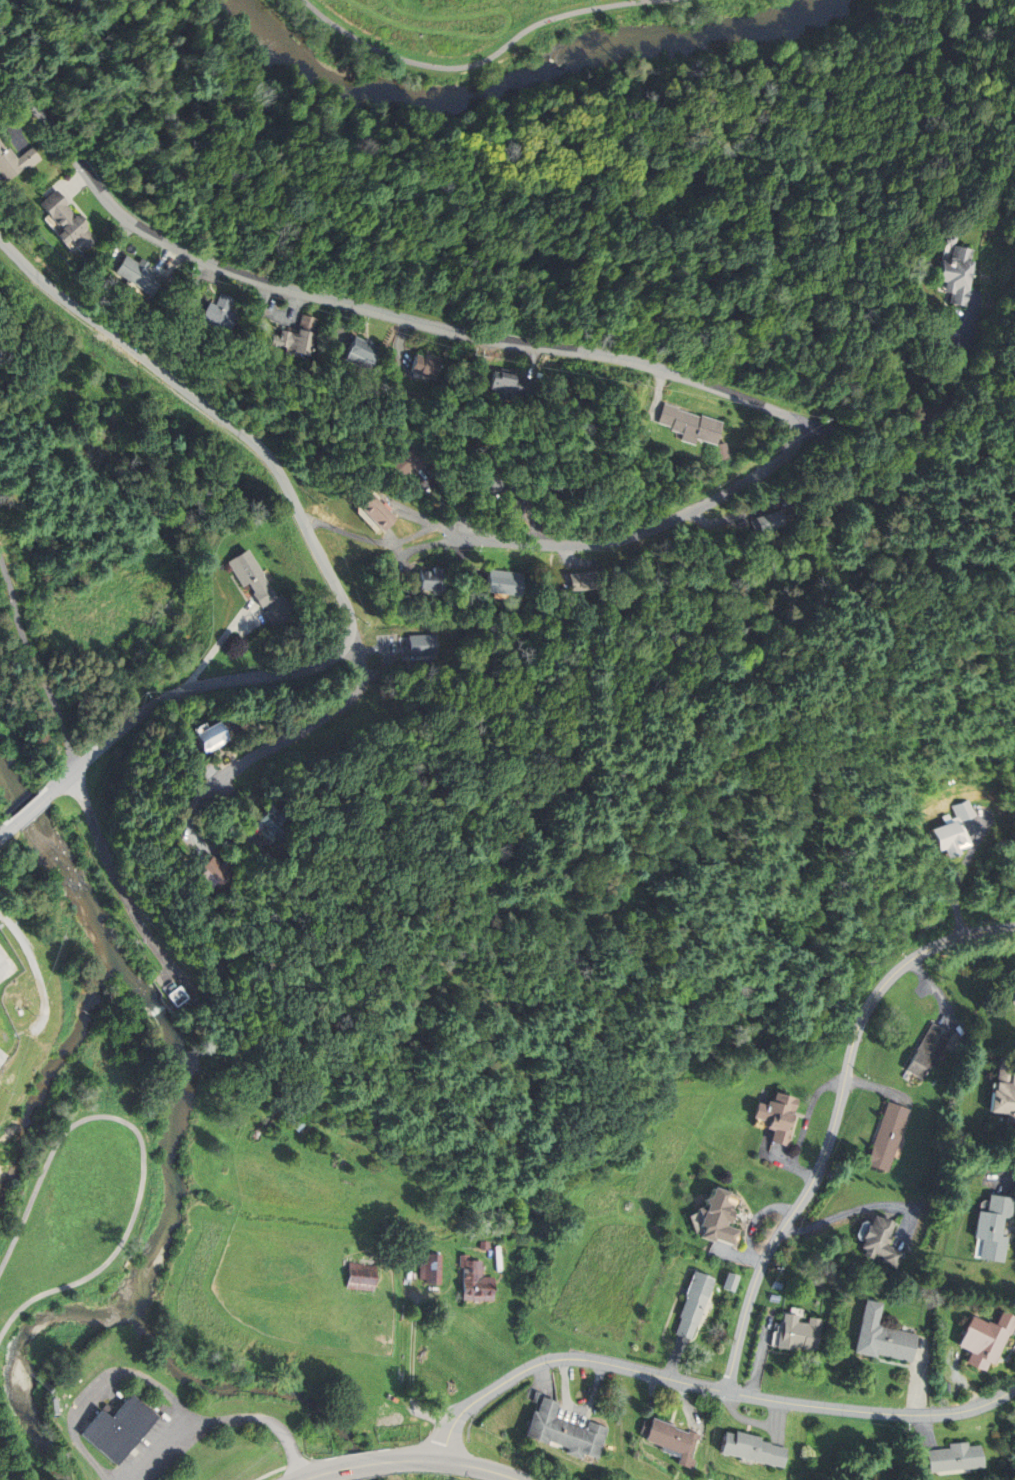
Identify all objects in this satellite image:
park: (461, 32)
road: (499, 34)
road: (484, 62)
river: (521, 86)
road: (14, 124)
building: (14, 161)
road: (73, 183)
building: (61, 220)
road: (118, 238)
road: (167, 261)
building: (954, 270)
road: (207, 274)
building: (134, 275)
road: (195, 282)
building: (216, 314)
road: (275, 318)
road: (947, 320)
building: (305, 323)
road: (340, 325)
road: (400, 340)
building: (288, 342)
road: (558, 349)
building: (357, 353)
road: (531, 360)
building: (422, 365)
building: (510, 384)
road: (659, 394)
road: (928, 418)
building: (689, 426)
building: (720, 451)
building: (404, 461)
building: (484, 478)
road: (441, 494)
road: (517, 494)
road: (105, 501)
building: (374, 511)
road: (413, 514)
road: (526, 514)
road: (736, 516)
building: (766, 520)
road: (391, 536)
road: (373, 541)
road: (417, 548)
road: (316, 549)
road: (397, 550)
road: (462, 558)
road: (575, 562)
building: (248, 574)
building: (430, 580)
building: (577, 581)
building: (502, 582)
park: (68, 610)
building: (421, 644)
road: (218, 646)
road: (354, 650)
road: (34, 663)
road: (374, 674)
building: (210, 737)
road: (262, 752)
road: (213, 774)
road: (54, 777)
road: (28, 806)
road: (30, 811)
road: (7, 824)
building: (268, 824)
building: (951, 830)
road: (8, 832)
road: (239, 841)
road: (196, 850)
river: (55, 852)
building: (208, 872)
road: (112, 880)
road: (36, 968)
building: (180, 996)
building: (927, 1050)
building: (1004, 1093)
building: (776, 1116)
road: (836, 1121)
building: (887, 1136)
road: (144, 1150)
park: (75, 1215)
building: (716, 1216)
building: (993, 1227)
building: (880, 1240)
building: (483, 1245)
building: (432, 1269)
building: (361, 1276)
building: (729, 1281)
building: (475, 1283)
building: (692, 1303)
building: (797, 1333)
building: (881, 1336)
building: (983, 1339)
road: (761, 1354)
road: (706, 1386)
road: (98, 1390)
road: (220, 1420)
building: (120, 1429)
building: (561, 1431)
building: (671, 1440)
road: (13, 1444)
building: (752, 1449)
building: (952, 1457)
road: (362, 1462)
road: (448, 1462)
road: (319, 1471)
park: (408, 1473)

